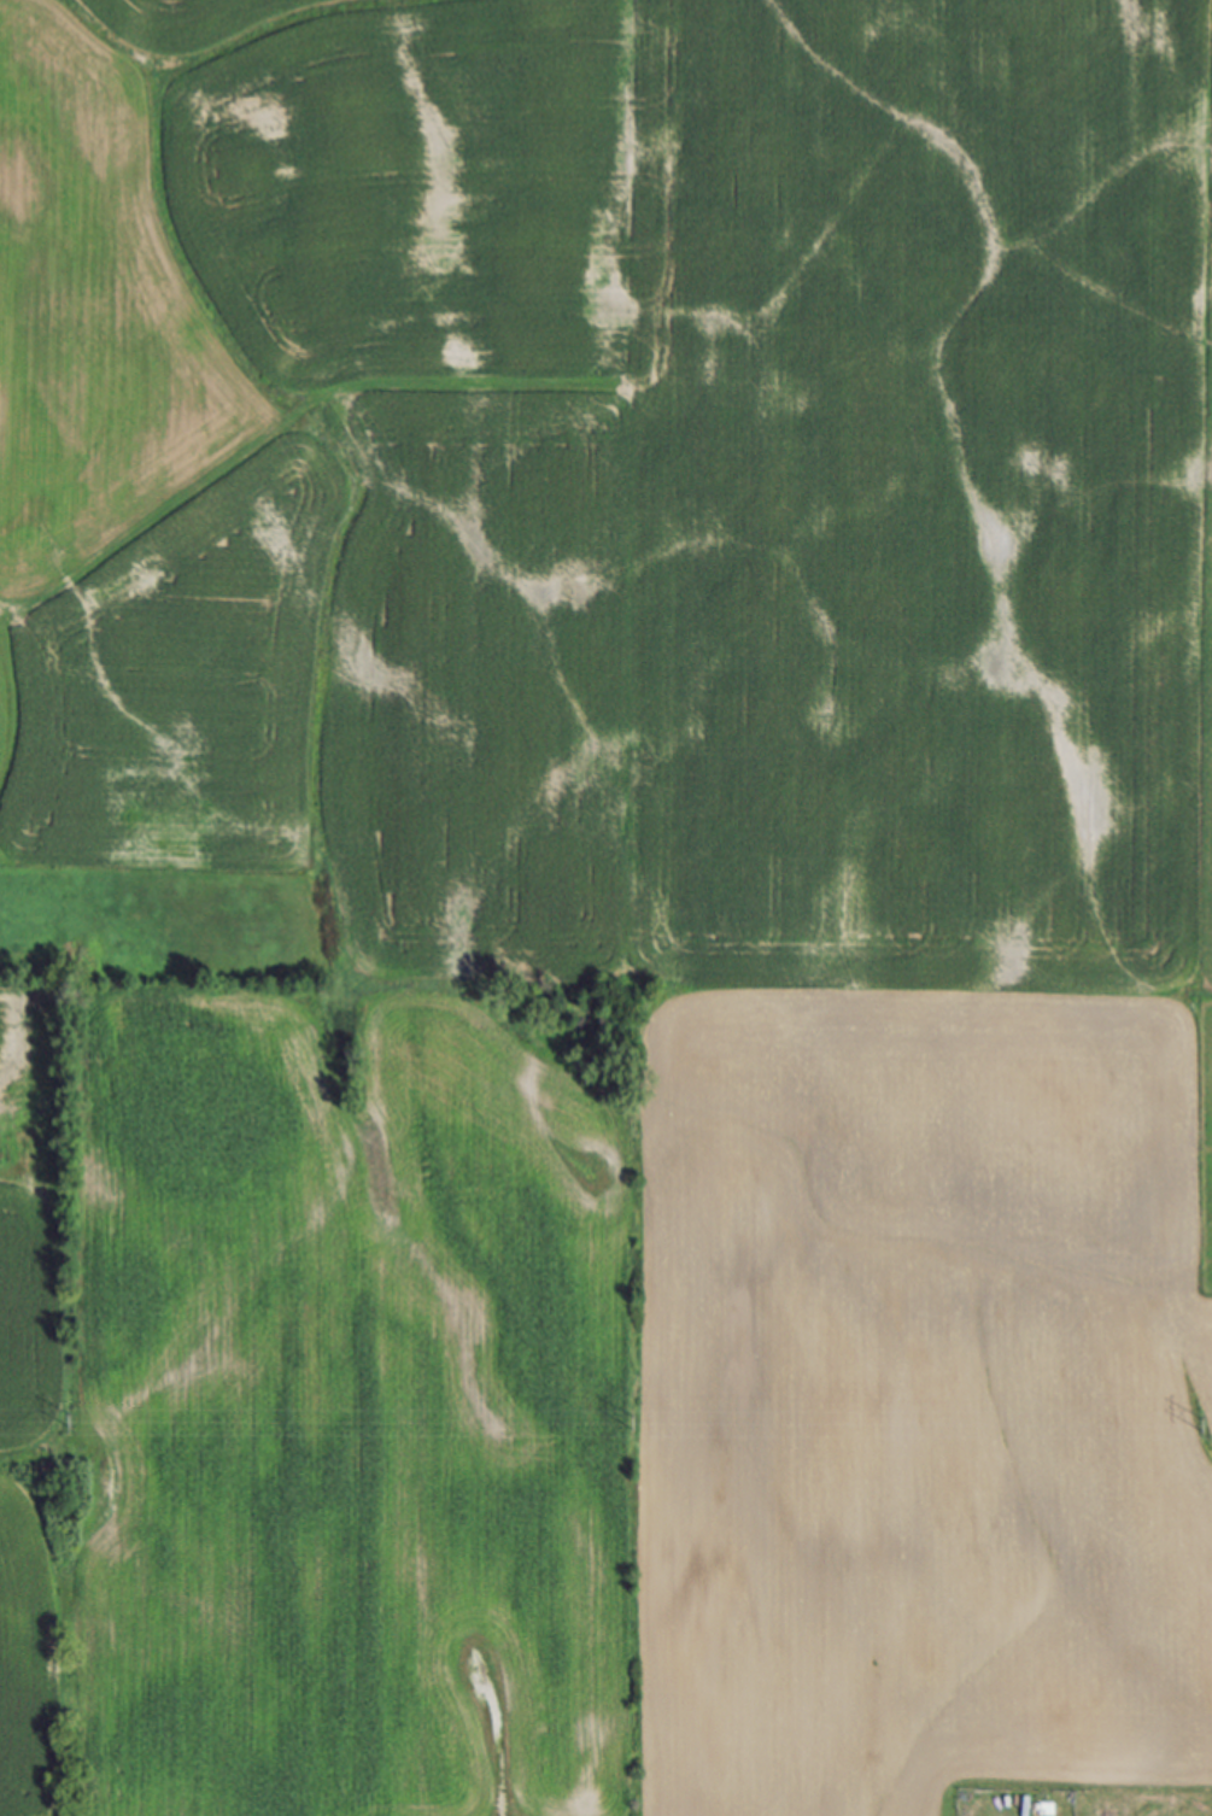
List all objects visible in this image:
power tower: (71, 1423)
power tower: (639, 1427)
power tower: (1207, 1428)

